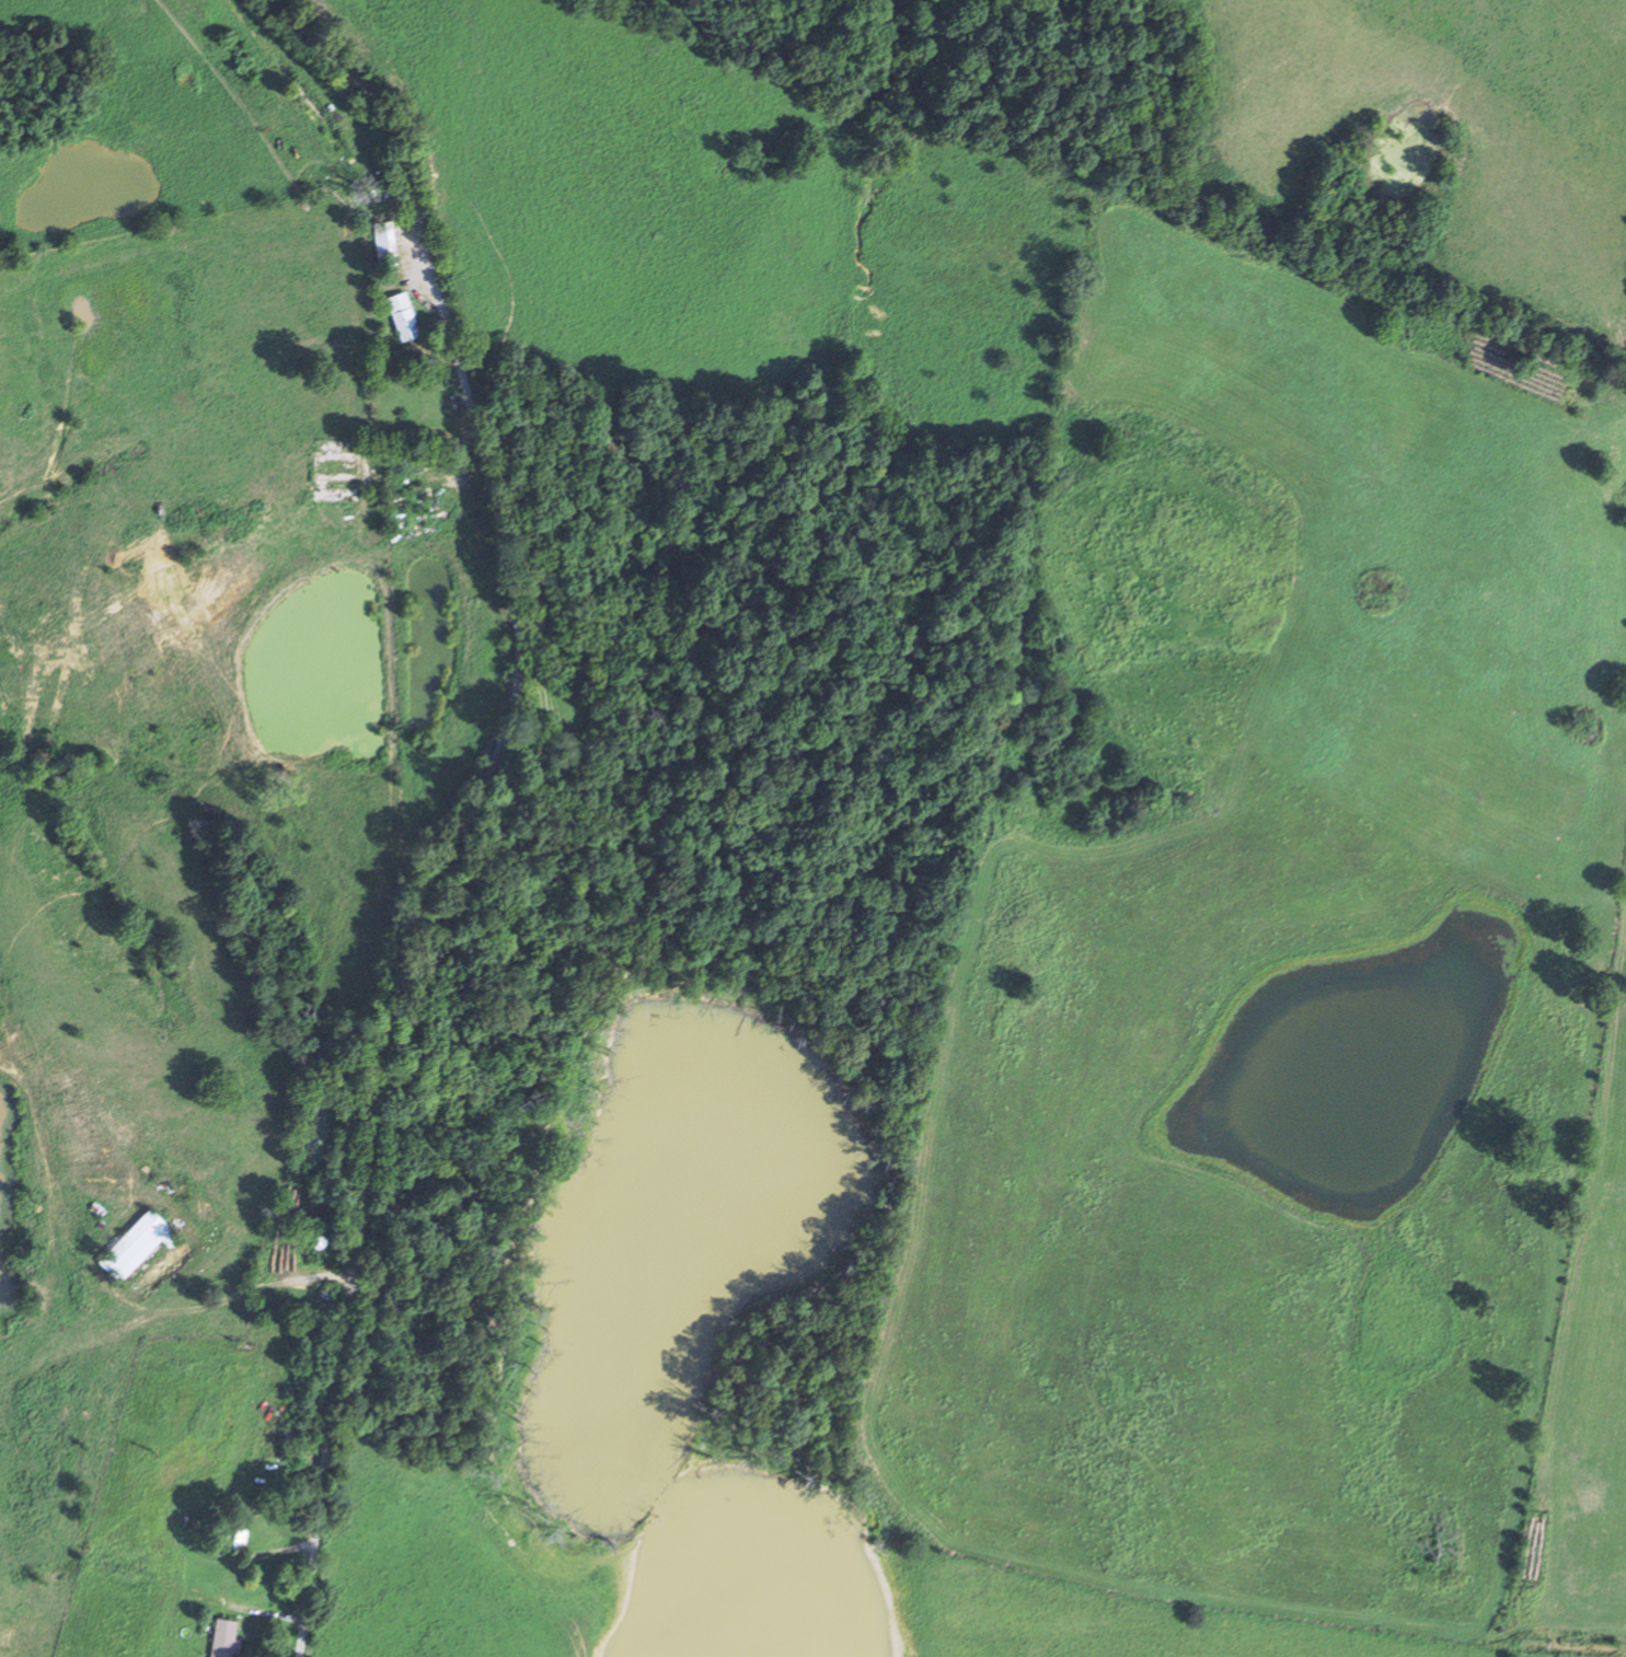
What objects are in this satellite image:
road: (480, 804)

